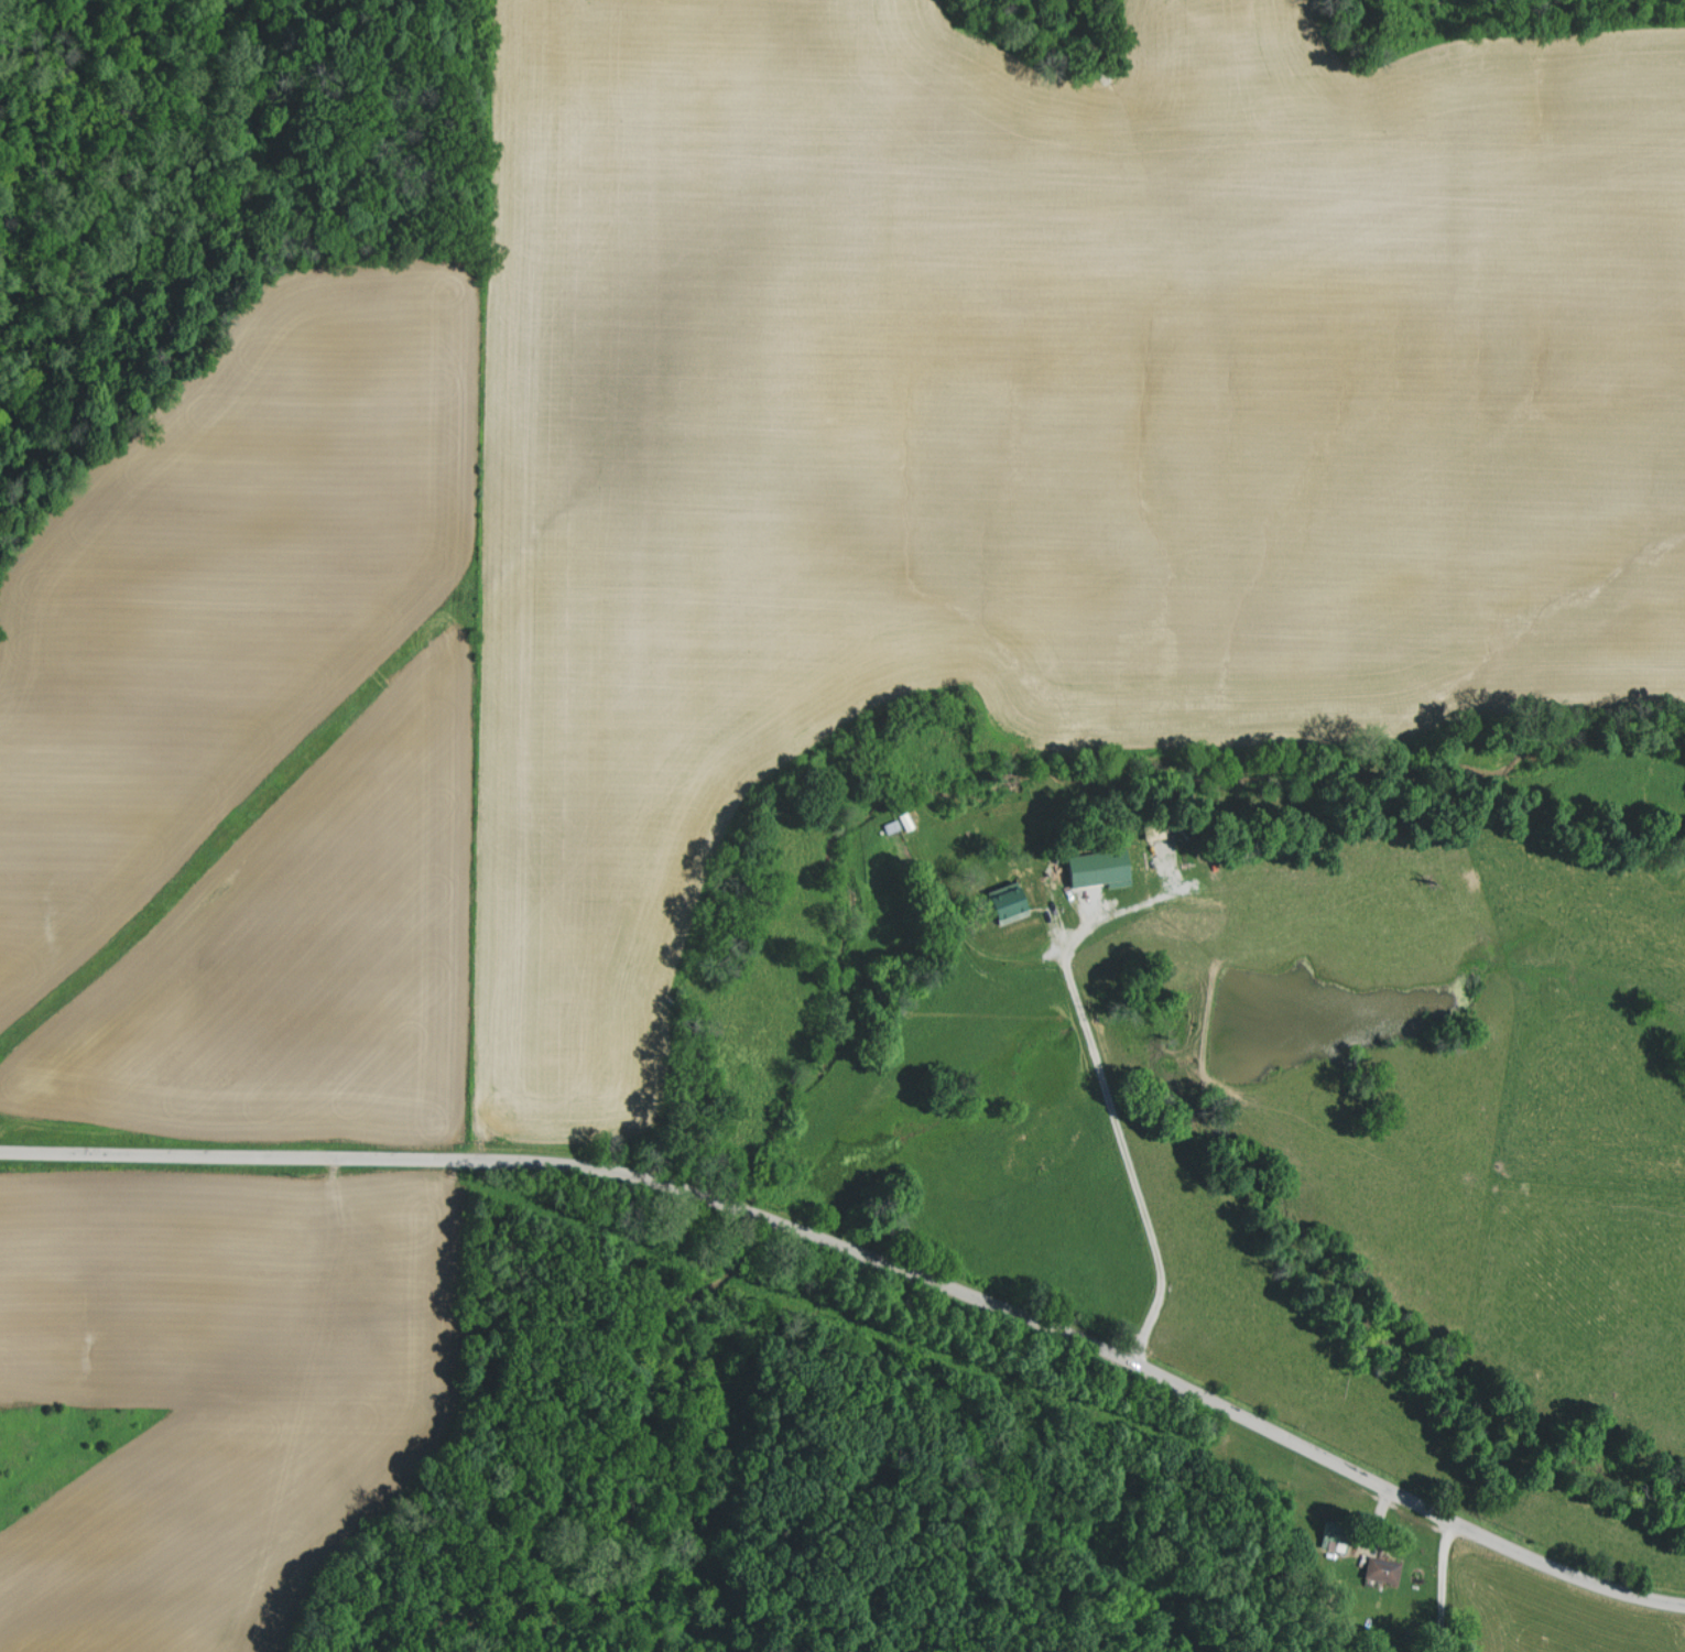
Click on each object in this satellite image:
building: (1105, 869)
building: (1018, 903)
road: (1118, 1160)
road: (870, 1256)
building: (1387, 1569)
road: (1443, 1585)

